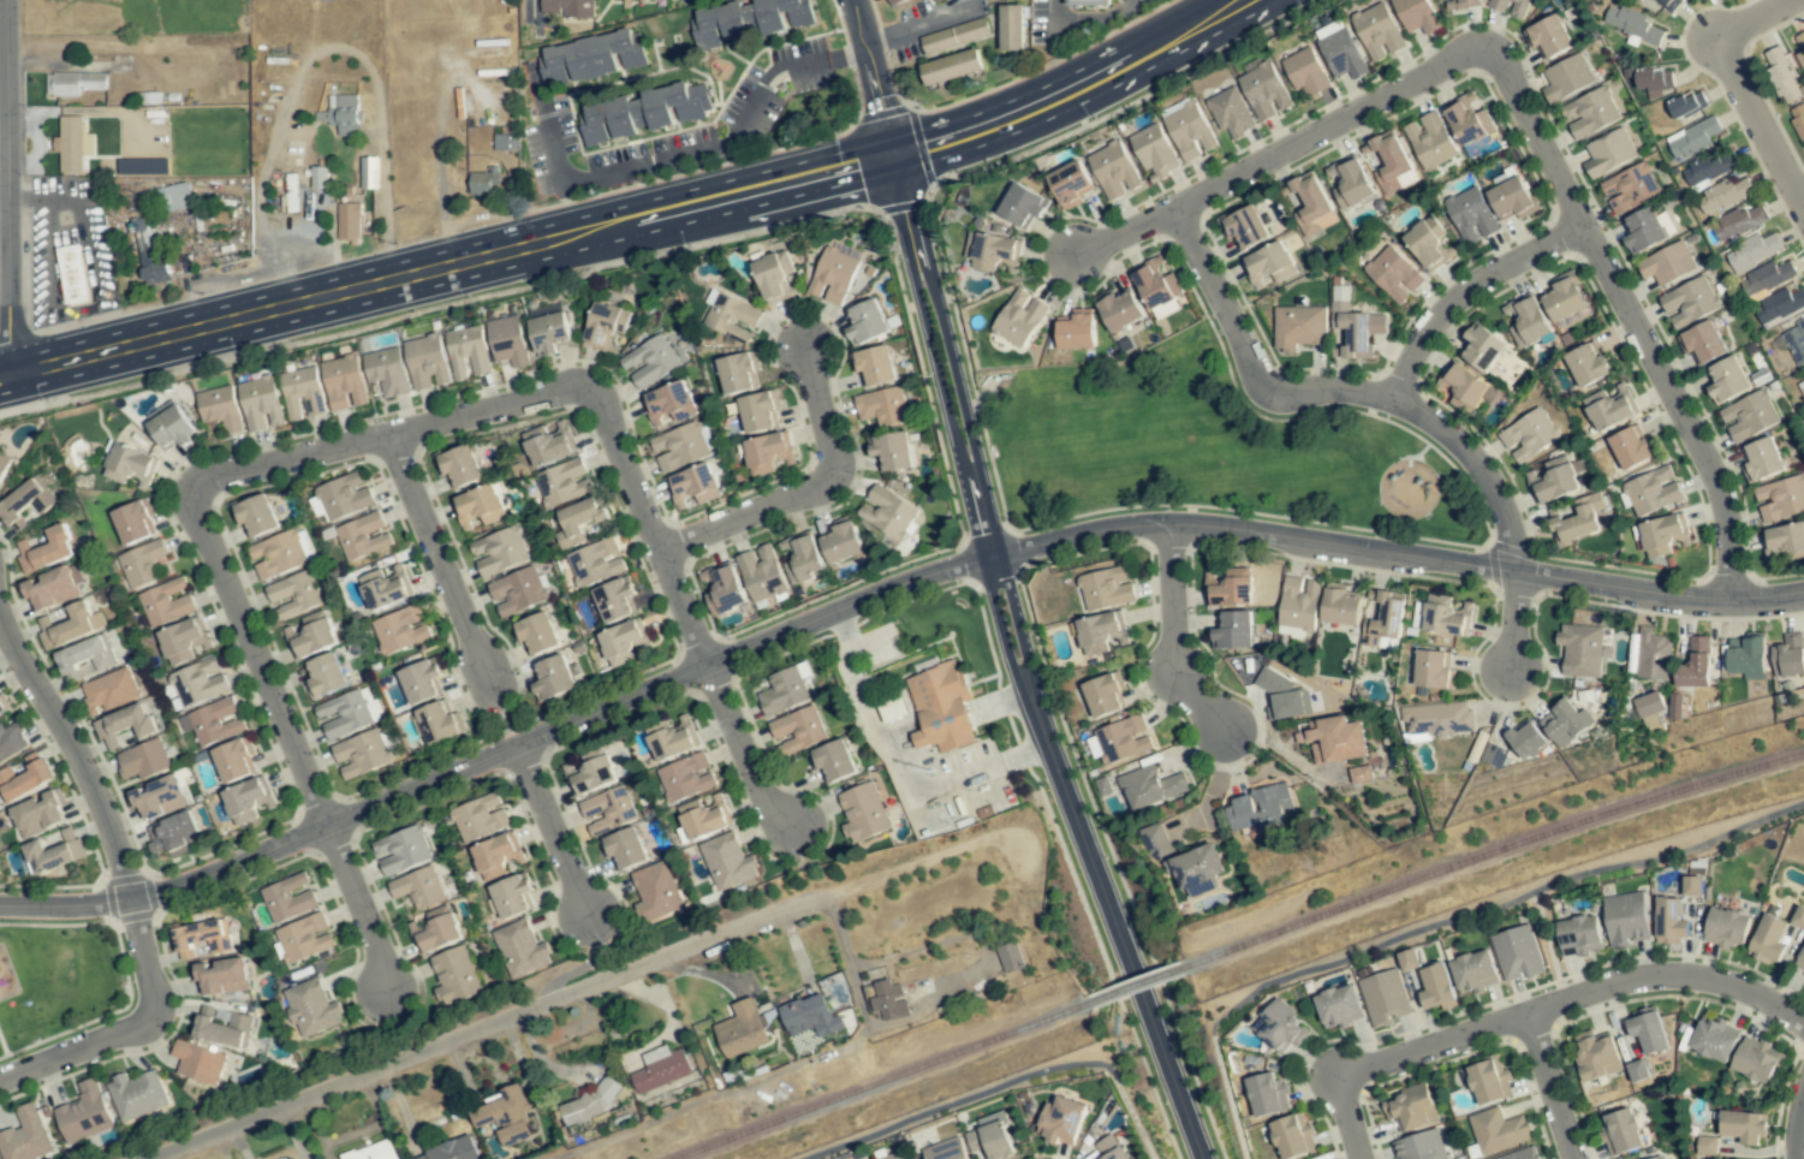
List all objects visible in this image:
building: (933, 0)
building: (893, 1)
building: (1085, 2)
building: (1466, 2)
building: (1519, 4)
building: (1671, 4)
road: (523, 7)
building: (568, 7)
road: (1047, 11)
building: (1416, 14)
building: (748, 20)
road: (1091, 20)
road: (924, 24)
building: (1636, 25)
building: (1011, 28)
building: (1327, 29)
building: (1377, 29)
road: (1181, 31)
building: (954, 36)
building: (1548, 37)
building: (1800, 44)
building: (1341, 54)
building: (590, 58)
building: (1302, 66)
building: (951, 67)
building: (1779, 67)
road: (882, 75)
building: (1567, 77)
road: (1088, 81)
building: (1655, 81)
building: (73, 83)
road: (1739, 87)
building: (1264, 91)
building: (1687, 105)
road: (282, 109)
building: (1231, 112)
building: (642, 113)
building: (1589, 113)
building: (344, 114)
road: (5, 119)
building: (1799, 119)
building: (1467, 120)
building: (1189, 131)
road: (1322, 133)
building: (1145, 138)
building: (1692, 139)
building: (1430, 141)
building: (505, 142)
building: (72, 144)
road: (696, 148)
building: (1609, 153)
building: (1393, 164)
building: (1710, 168)
building: (1114, 171)
building: (318, 177)
building: (483, 180)
building: (1068, 182)
building: (1350, 183)
road: (11, 185)
building: (1630, 188)
road: (721, 194)
building: (1726, 194)
building: (174, 197)
building: (1511, 198)
road: (381, 200)
road: (1803, 203)
building: (1020, 204)
building: (1471, 215)
building: (1326, 218)
building: (349, 220)
building: (1739, 222)
building: (1244, 227)
building: (1643, 230)
road: (1121, 242)
building: (1425, 243)
building: (148, 250)
building: (993, 250)
building: (1754, 251)
building: (1270, 263)
building: (1667, 263)
building: (833, 273)
building: (72, 274)
building: (1394, 274)
building: (769, 275)
building: (1767, 278)
building: (1153, 283)
road: (1460, 295)
building: (1562, 297)
building: (1689, 302)
building: (1779, 307)
building: (1118, 309)
building: (1166, 309)
road: (1625, 315)
building: (730, 317)
building: (1528, 320)
building: (865, 322)
building: (1012, 325)
road: (192, 326)
building: (601, 326)
building: (1351, 326)
building: (548, 328)
building: (1296, 328)
building: (1077, 329)
building: (508, 340)
building: (1796, 341)
building: (1702, 343)
building: (1481, 346)
building: (468, 352)
building: (649, 361)
building: (427, 362)
building: (1589, 364)
building: (873, 365)
building: (387, 372)
building: (736, 373)
building: (1803, 378)
building: (1727, 380)
building: (344, 382)
building: (1464, 387)
building: (302, 393)
road: (1335, 396)
building: (260, 403)
building: (668, 405)
building: (882, 406)
building: (220, 408)
building: (1609, 408)
building: (758, 411)
building: (1749, 416)
building: (171, 427)
road: (398, 432)
building: (1528, 434)
building: (548, 442)
building: (678, 446)
park: (1201, 446)
building: (1630, 448)
building: (887, 450)
building: (768, 453)
building: (1761, 459)
building: (2, 464)
building: (130, 465)
building: (458, 466)
building: (1553, 480)
building: (564, 482)
building: (693, 485)
road: (814, 489)
building: (1651, 491)
building: (344, 495)
building: (1781, 498)
building: (25, 504)
building: (478, 506)
building: (887, 512)
building: (255, 516)
building: (135, 521)
building: (577, 522)
building: (1574, 525)
road: (654, 528)
building: (1662, 535)
building: (363, 536)
building: (1784, 541)
building: (841, 542)
building: (46, 549)
building: (499, 551)
building: (276, 554)
building: (803, 558)
road: (447, 560)
building: (589, 561)
road: (995, 561)
building: (141, 563)
building: (762, 572)
building: (386, 587)
building: (1227, 587)
building: (49, 588)
building: (1107, 588)
building: (517, 590)
building: (725, 590)
building: (293, 594)
road: (881, 598)
building: (614, 599)
building: (165, 602)
building: (1298, 602)
building: (1340, 605)
building: (1445, 616)
road: (1514, 624)
building: (66, 626)
building: (400, 629)
building: (1377, 629)
building: (1232, 630)
building: (1099, 631)
building: (535, 634)
road: (1173, 634)
building: (310, 635)
building: (183, 640)
building: (620, 642)
building: (1580, 650)
road: (267, 652)
building: (1651, 654)
building: (85, 655)
building: (1745, 656)
building: (1788, 656)
building: (1695, 665)
building: (1431, 668)
building: (323, 676)
building: (552, 678)
building: (421, 680)
building: (197, 682)
building: (108, 690)
building: (782, 691)
building: (1102, 695)
building: (1284, 697)
building: (1651, 703)
building: (2, 705)
building: (892, 706)
building: (1675, 706)
building: (941, 709)
building: (347, 713)
building: (1440, 719)
building: (215, 721)
building: (440, 721)
building: (1561, 723)
building: (124, 726)
building: (798, 726)
building: (1123, 738)
building: (1524, 738)
building: (672, 739)
building: (1334, 739)
building: (11, 741)
road: (72, 750)
building: (361, 753)
road: (748, 755)
building: (1490, 755)
building: (143, 760)
building: (234, 760)
building: (834, 761)
building: (588, 773)
building: (1359, 773)
building: (686, 777)
building: (24, 778)
building: (1151, 786)
building: (160, 797)
building: (248, 800)
building: (591, 806)
building: (1257, 808)
building: (37, 814)
building: (862, 814)
building: (704, 816)
building: (480, 818)
building: (595, 828)
road: (564, 831)
building: (172, 833)
building: (1156, 842)
building: (624, 849)
building: (401, 850)
building: (54, 851)
railway: (1490, 852)
building: (496, 855)
road: (1112, 858)
building: (727, 861)
road: (1068, 861)
road: (918, 866)
building: (1202, 867)
building: (1692, 886)
building: (418, 887)
building: (655, 891)
building: (511, 896)
building: (288, 897)
road: (370, 907)
building: (1798, 916)
building: (1626, 917)
building: (1671, 921)
road: (1435, 925)
building: (1727, 928)
building: (435, 929)
building: (1579, 935)
building: (200, 938)
building: (304, 938)
building: (1768, 939)
road: (1549, 946)
building: (520, 949)
road: (989, 951)
building: (1517, 951)
building: (1010, 956)
road: (849, 958)
building: (1409, 959)
building: (1800, 962)
building: (1473, 971)
building: (220, 975)
building: (456, 975)
park: (59, 977)
building: (1437, 985)
railway: (1136, 986)
building: (1375, 992)
road: (1567, 998)
building: (889, 1000)
building: (1338, 1006)
building: (311, 1008)
building: (810, 1016)
road: (132, 1026)
building: (220, 1027)
road: (483, 1027)
building: (1280, 1028)
building: (740, 1029)
building: (1647, 1030)
building: (1713, 1039)
building: (1595, 1054)
road: (1166, 1060)
building: (1754, 1060)
building: (198, 1062)
building: (661, 1069)
building: (1637, 1070)
railway: (882, 1081)
building: (1488, 1081)
road: (1007, 1086)
road: (1547, 1086)
building: (136, 1094)
building: (1267, 1094)
road: (713, 1095)
building: (1409, 1107)
building: (582, 1109)
building: (83, 1113)
building: (505, 1115)
road: (1344, 1118)
building: (1060, 1121)
building: (1743, 1127)
road: (1798, 1131)
building: (1510, 1133)
building: (1621, 1133)
building: (24, 1136)
building: (994, 1136)
building: (1291, 1136)
building: (1704, 1146)
building: (1109, 1148)
building: (1412, 1149)
building: (371, 1151)
building: (449, 1151)
building: (947, 1152)
building: (1518, 1155)
building: (846, 1158)
building: (892, 1158)
building: (1656, 1158)

